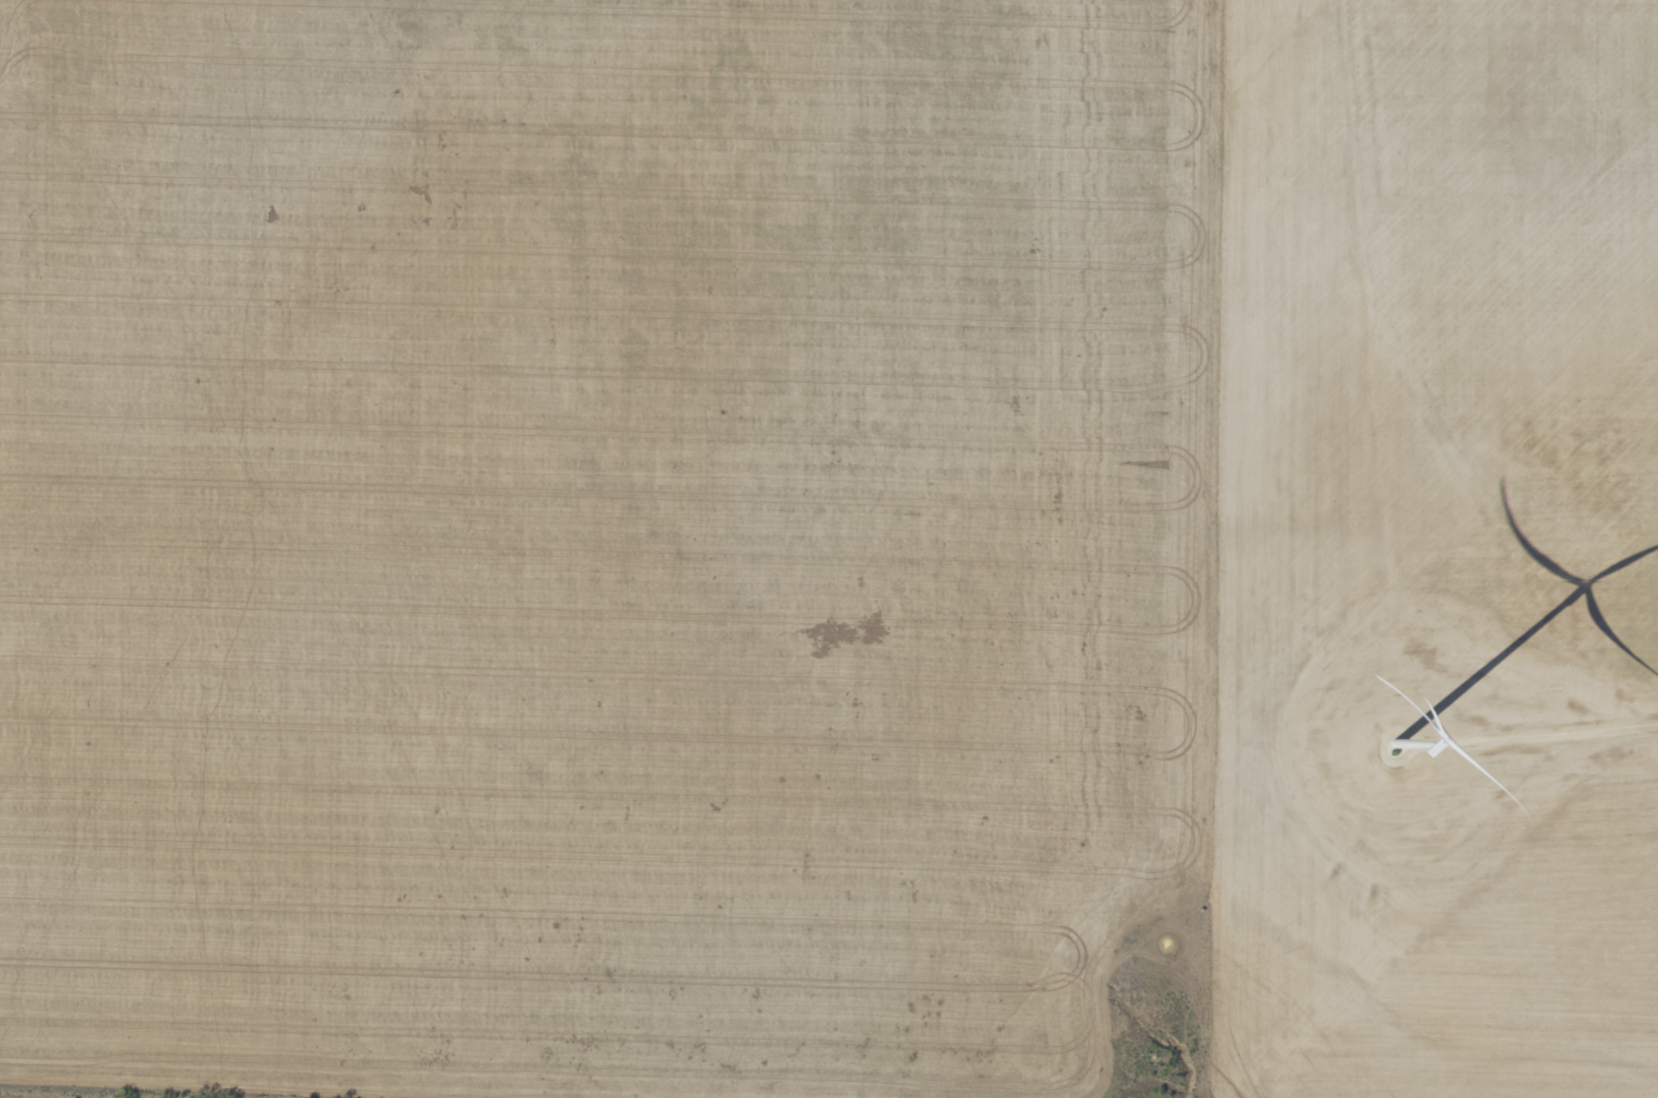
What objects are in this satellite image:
wind turbine: (1401, 751)

